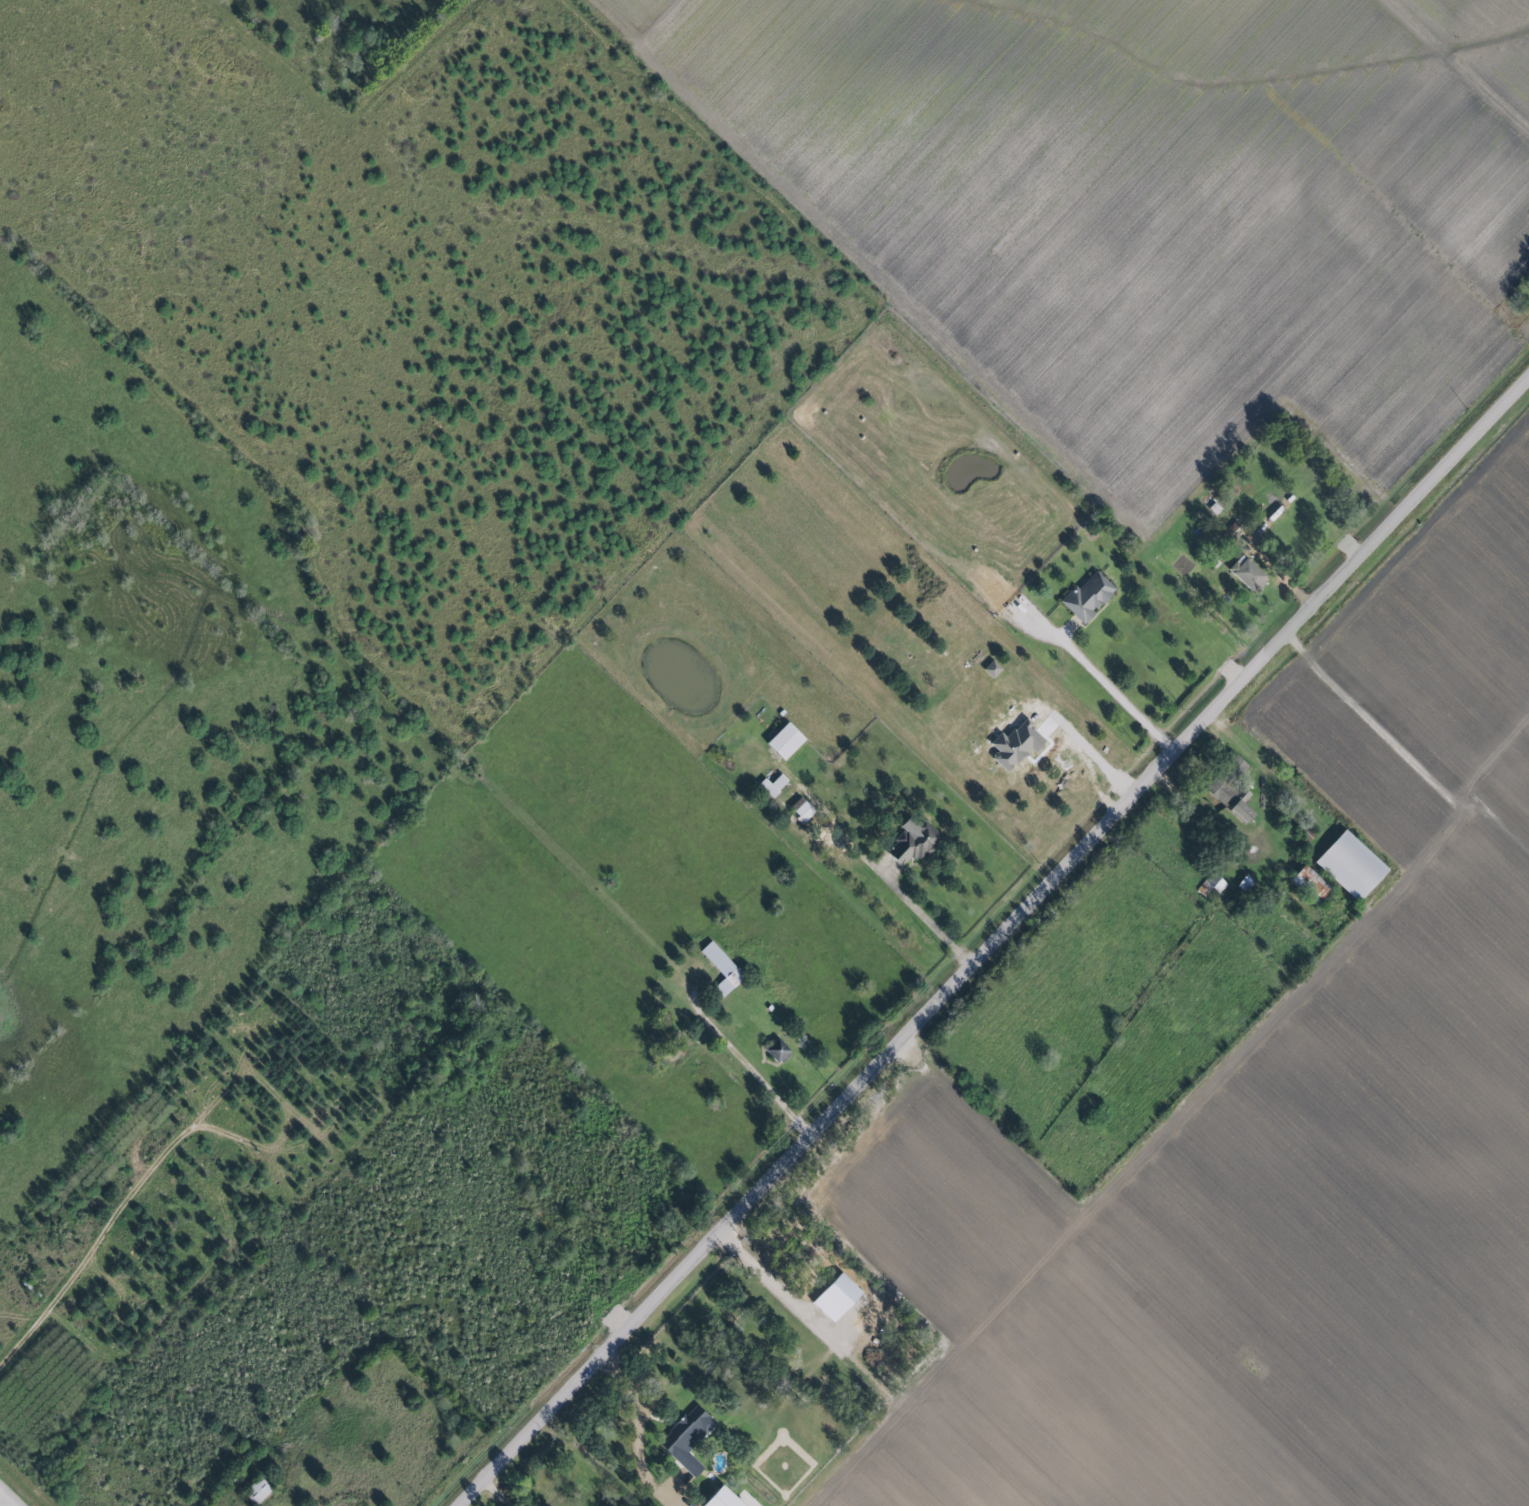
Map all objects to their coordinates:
building: (1246, 575)
building: (1086, 598)
building: (990, 669)
road: (1111, 692)
building: (782, 742)
building: (1013, 745)
road: (1098, 759)
building: (771, 786)
building: (1228, 798)
building: (800, 810)
building: (913, 845)
building: (1348, 866)
building: (1244, 884)
building: (1308, 884)
building: (1210, 886)
road: (930, 920)
road: (992, 942)
building: (720, 969)
building: (776, 1051)
road: (753, 1071)
crop: (1275, 1136)
road: (25, 1335)
road: (634, 1430)
building: (685, 1439)
building: (254, 1492)
road: (498, 1492)
building: (719, 1499)
road: (6, 1500)

